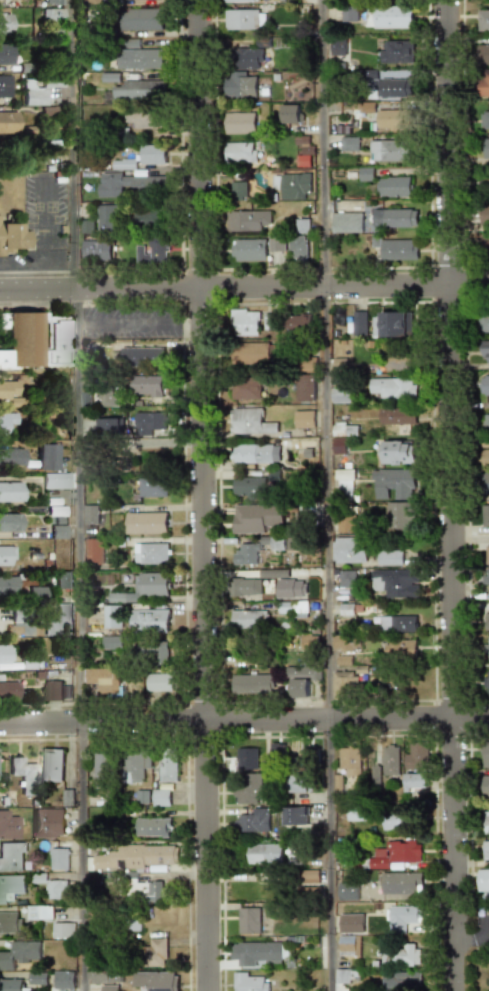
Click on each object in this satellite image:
building: (134, 0)
building: (241, 1)
building: (53, 2)
building: (348, 13)
building: (52, 14)
building: (392, 16)
building: (140, 19)
building: (244, 20)
building: (483, 20)
building: (5, 23)
building: (337, 47)
building: (397, 52)
building: (6, 53)
building: (483, 54)
building: (248, 58)
building: (139, 59)
building: (367, 74)
building: (483, 83)
building: (239, 86)
building: (5, 88)
building: (393, 88)
building: (137, 90)
building: (34, 93)
building: (291, 114)
building: (142, 118)
building: (394, 119)
building: (484, 120)
building: (8, 122)
building: (239, 123)
building: (349, 143)
road: (323, 144)
road: (74, 145)
building: (48, 148)
building: (483, 149)
building: (303, 151)
building: (390, 151)
building: (240, 152)
building: (152, 154)
building: (123, 164)
building: (130, 184)
building: (483, 184)
building: (295, 186)
building: (395, 187)
building: (238, 190)
building: (484, 215)
building: (108, 218)
building: (395, 218)
building: (149, 219)
building: (247, 221)
building: (348, 222)
road: (47, 236)
building: (298, 238)
building: (11, 239)
building: (484, 243)
building: (96, 248)
building: (253, 248)
building: (395, 248)
building: (154, 250)
road: (23, 265)
road: (244, 290)
building: (270, 321)
building: (244, 322)
building: (299, 322)
building: (483, 322)
building: (359, 323)
building: (392, 324)
building: (34, 342)
building: (485, 351)
building: (252, 353)
building: (142, 357)
building: (398, 363)
building: (484, 384)
building: (148, 386)
building: (305, 387)
building: (247, 388)
building: (393, 388)
building: (11, 392)
building: (341, 395)
building: (109, 397)
building: (397, 415)
building: (303, 419)
building: (251, 421)
building: (6, 422)
building: (486, 422)
building: (151, 424)
building: (109, 427)
building: (344, 429)
building: (397, 452)
building: (252, 453)
building: (11, 456)
building: (46, 456)
building: (486, 457)
building: (56, 480)
building: (344, 482)
building: (486, 482)
building: (392, 483)
building: (248, 486)
building: (149, 487)
building: (11, 492)
road: (204, 495)
road: (453, 495)
building: (91, 514)
building: (485, 515)
building: (255, 517)
building: (398, 517)
building: (9, 522)
building: (146, 522)
building: (346, 523)
building: (58, 531)
building: (349, 549)
building: (94, 550)
building: (151, 552)
building: (7, 554)
building: (248, 554)
building: (487, 554)
building: (389, 556)
building: (272, 574)
building: (486, 577)
building: (346, 578)
building: (63, 580)
building: (394, 582)
building: (6, 584)
building: (153, 584)
building: (244, 587)
building: (294, 608)
building: (111, 617)
building: (57, 619)
building: (150, 619)
building: (247, 619)
building: (487, 621)
building: (397, 623)
road: (325, 640)
road: (78, 641)
building: (308, 642)
building: (111, 643)
building: (345, 643)
building: (399, 648)
building: (486, 648)
building: (153, 650)
building: (5, 654)
building: (299, 679)
building: (102, 680)
building: (157, 682)
building: (341, 682)
building: (252, 683)
building: (488, 683)
building: (7, 690)
building: (52, 690)
road: (244, 720)
building: (276, 750)
building: (485, 756)
building: (247, 758)
building: (349, 761)
building: (390, 761)
building: (52, 765)
building: (168, 766)
building: (103, 767)
building: (136, 767)
building: (415, 767)
building: (23, 774)
building: (299, 784)
building: (486, 787)
building: (248, 789)
building: (161, 797)
building: (356, 813)
building: (293, 815)
building: (253, 820)
building: (398, 820)
building: (486, 821)
building: (48, 822)
building: (8, 825)
building: (154, 827)
building: (486, 850)
building: (265, 853)
building: (397, 855)
building: (136, 856)
building: (12, 857)
building: (59, 859)
building: (309, 876)
building: (483, 881)
building: (400, 883)
building: (10, 887)
building: (56, 889)
building: (142, 889)
building: (347, 891)
building: (39, 912)
building: (404, 917)
building: (248, 920)
building: (8, 922)
building: (348, 923)
building: (63, 930)
building: (348, 945)
building: (156, 949)
building: (258, 954)
building: (19, 955)
building: (402, 955)
building: (346, 976)
building: (99, 977)
building: (35, 978)
building: (155, 981)
building: (249, 981)
building: (406, 981)
building: (64, 983)
building: (12, 984)
building: (108, 988)

